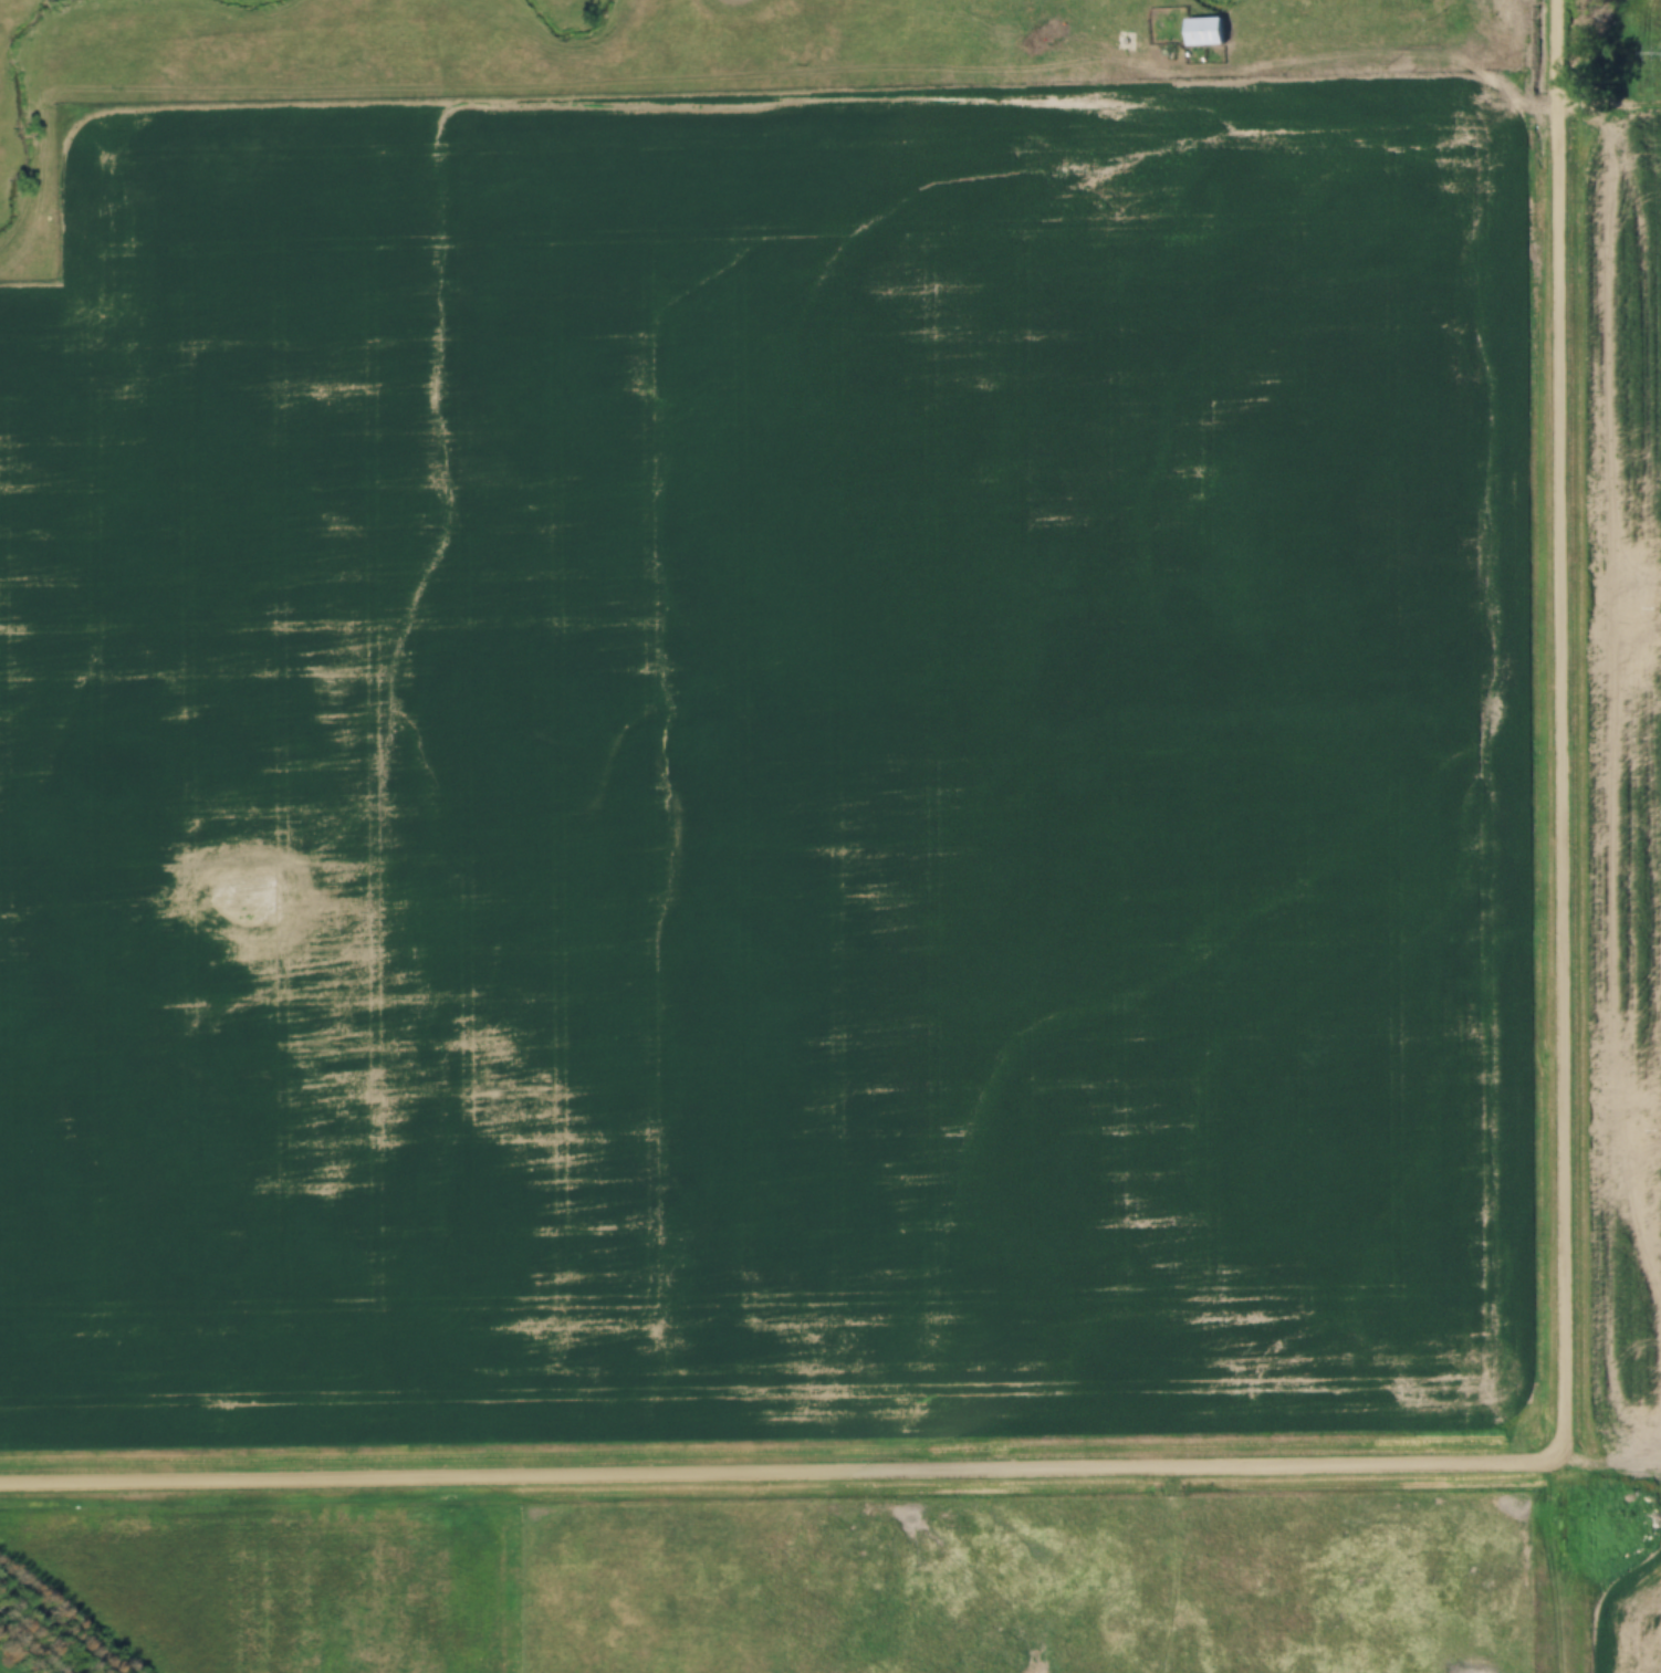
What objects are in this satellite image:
building: (1295, 8)
building: (1205, 32)
road: (1565, 726)
road: (1613, 1454)
road: (783, 1471)
road: (1567, 1564)

